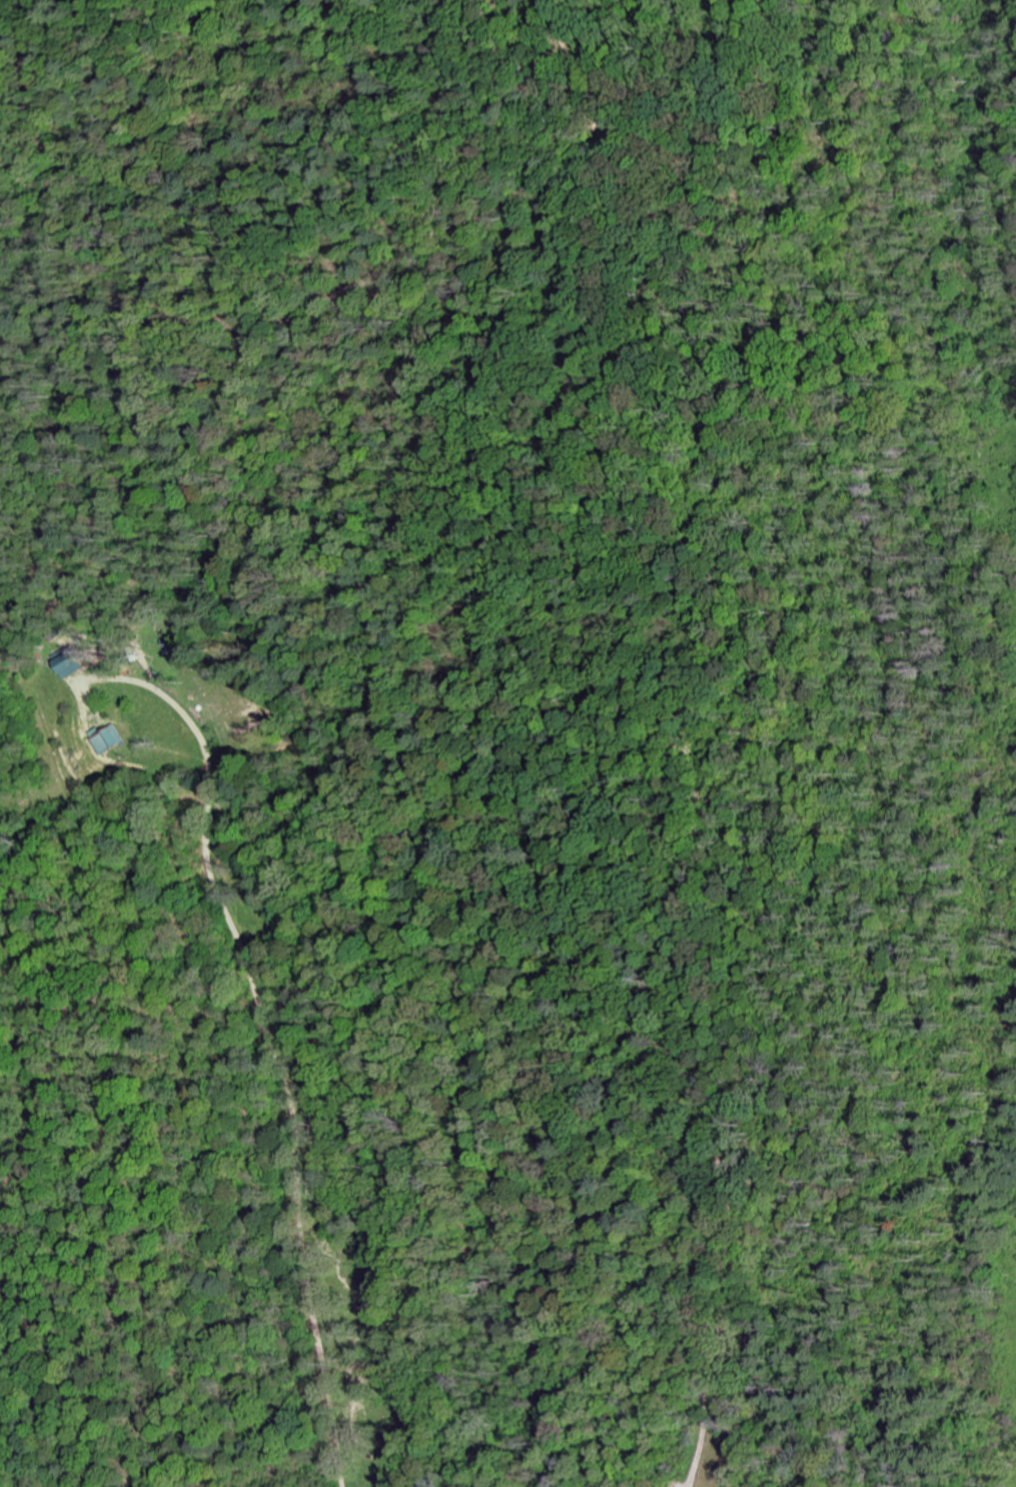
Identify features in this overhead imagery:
road: (1007, 139)
building: (108, 740)
road: (693, 1475)

